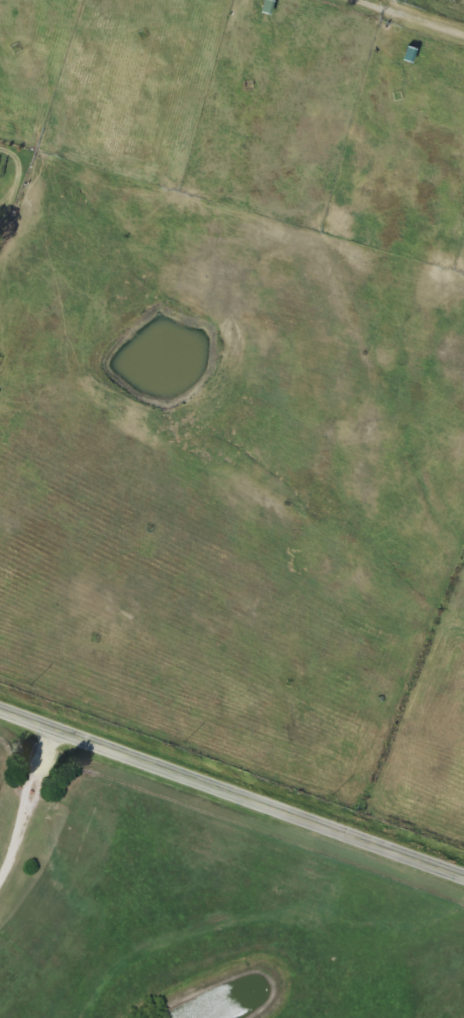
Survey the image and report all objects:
road: (231, 794)
road: (25, 804)

